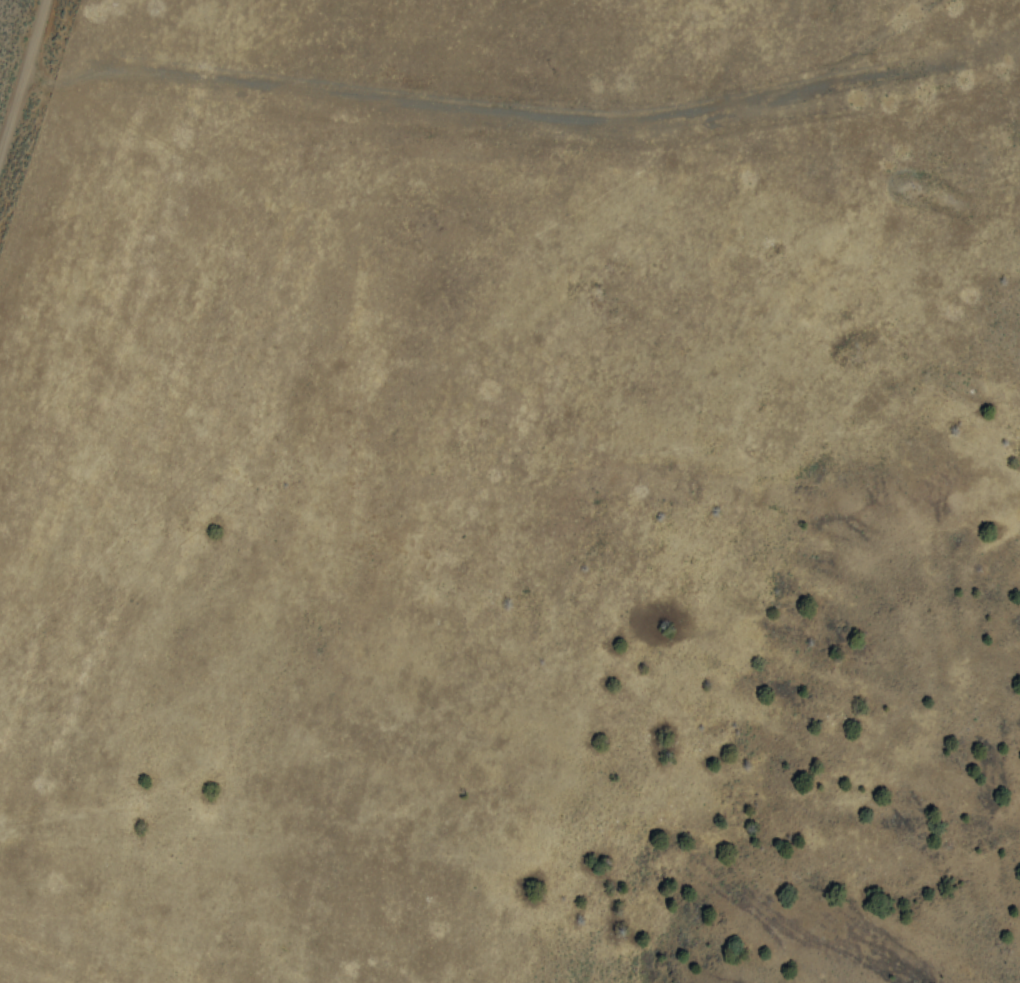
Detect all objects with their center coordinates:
road: (26, 82)
road: (332, 89)

